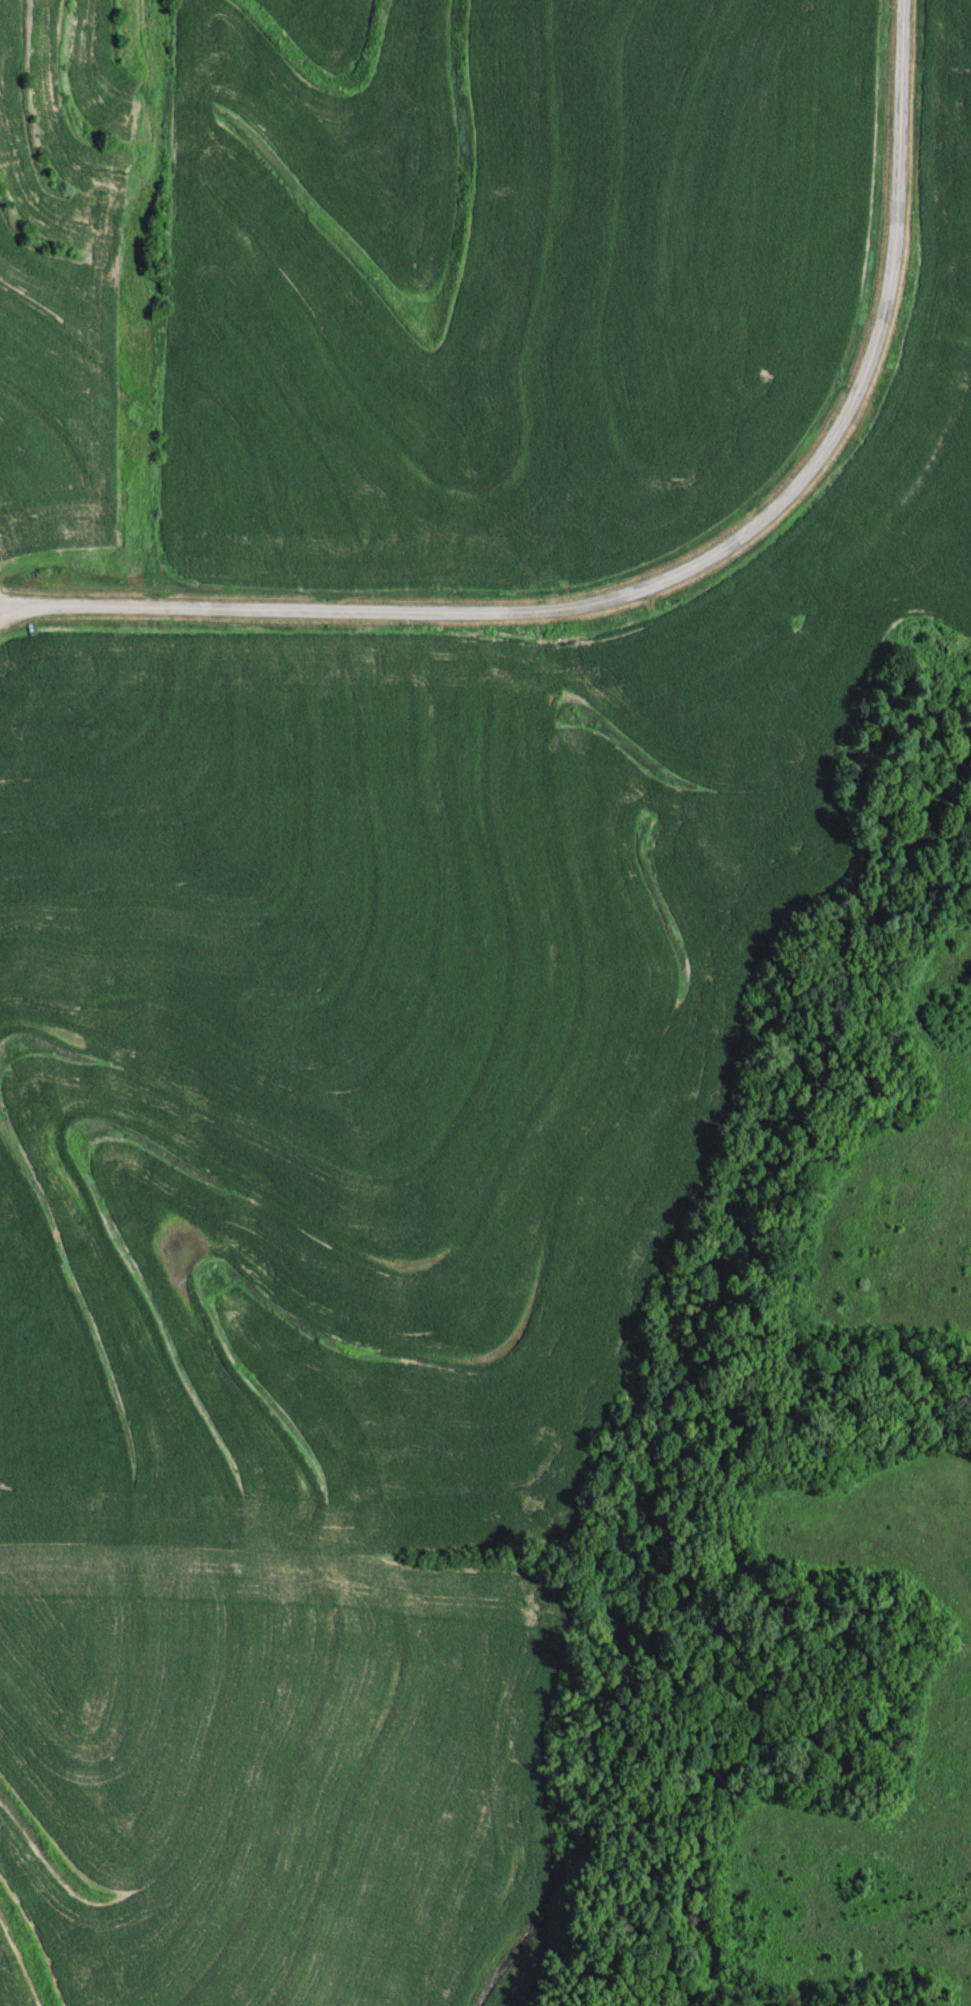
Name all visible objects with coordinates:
road: (663, 576)

